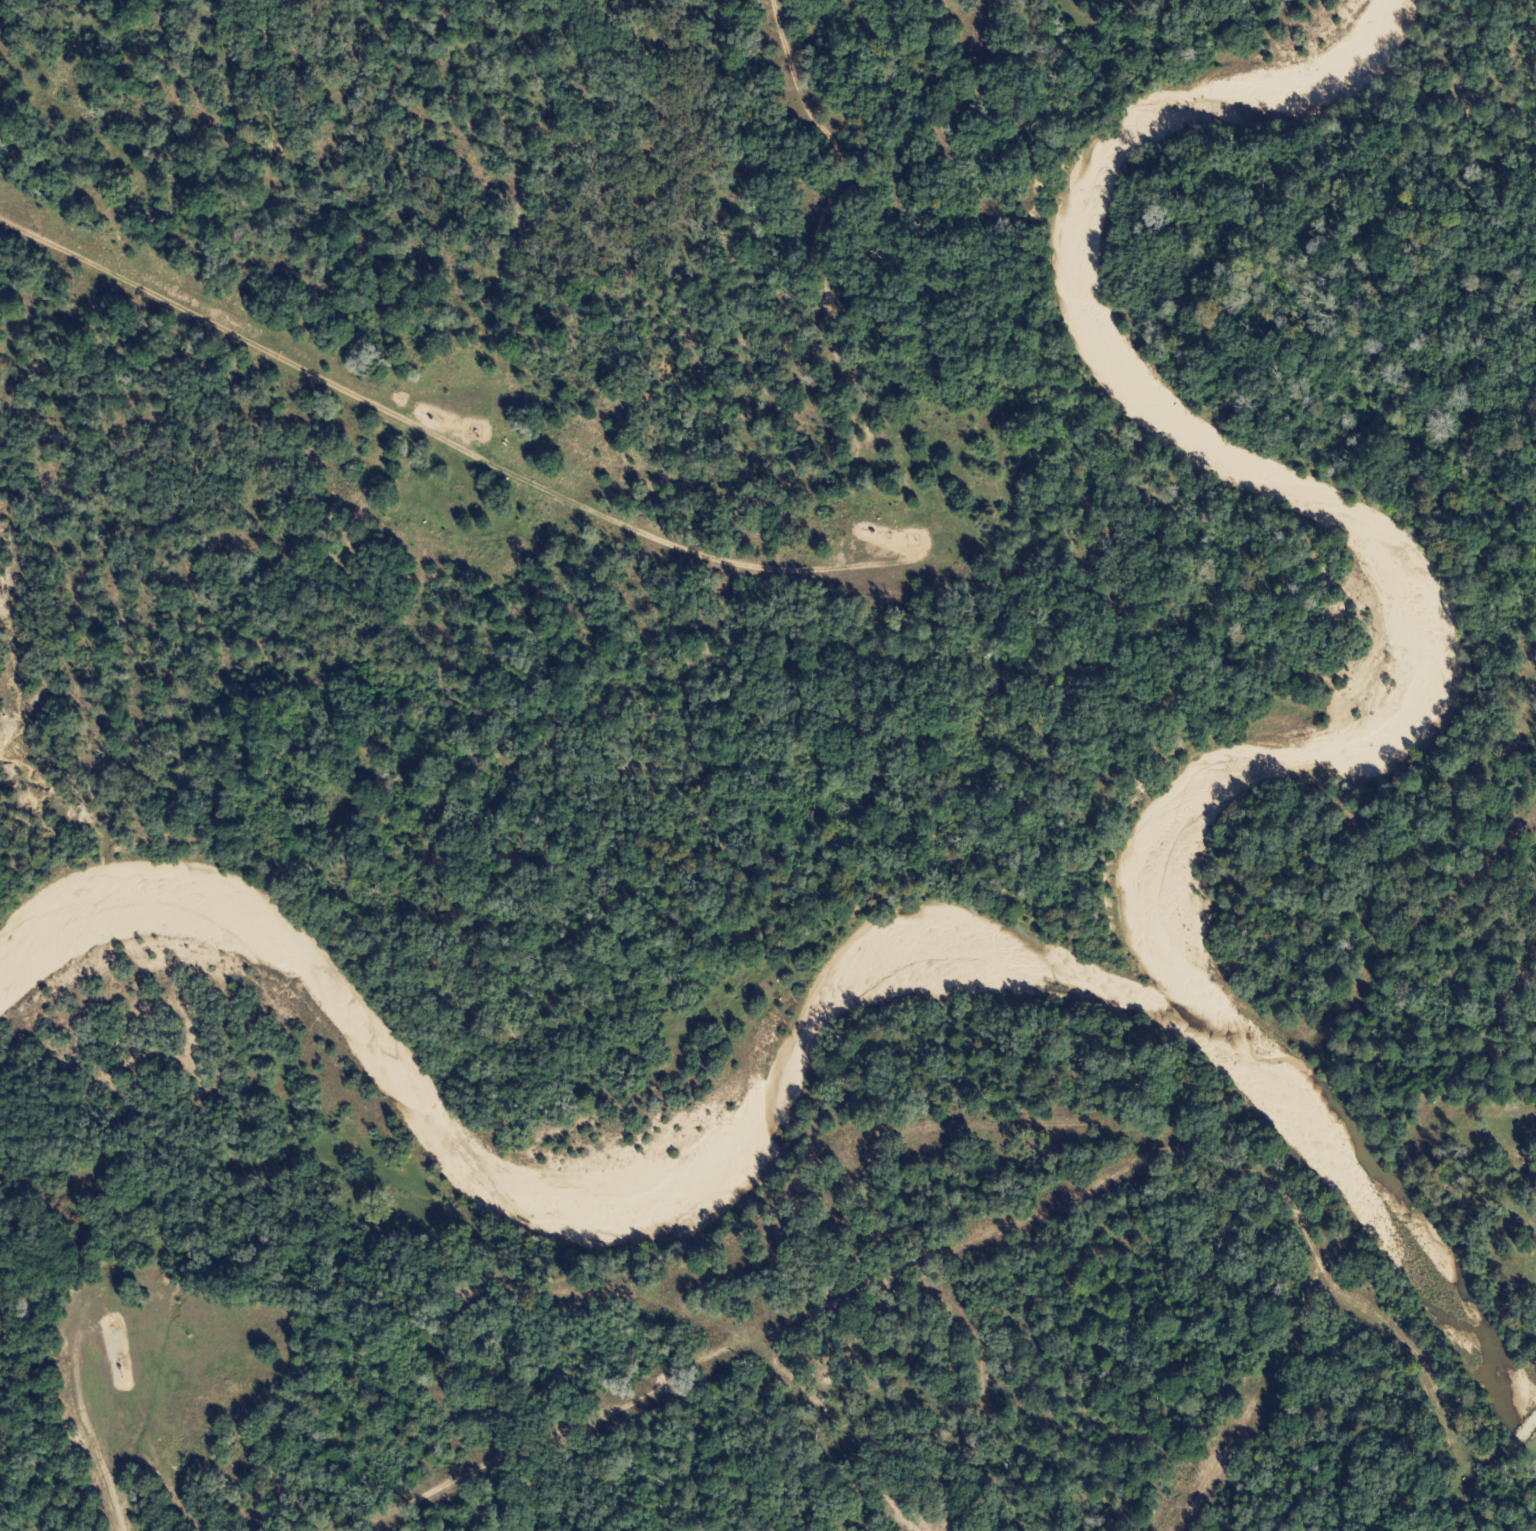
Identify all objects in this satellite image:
road: (416, 426)
road: (88, 1438)

